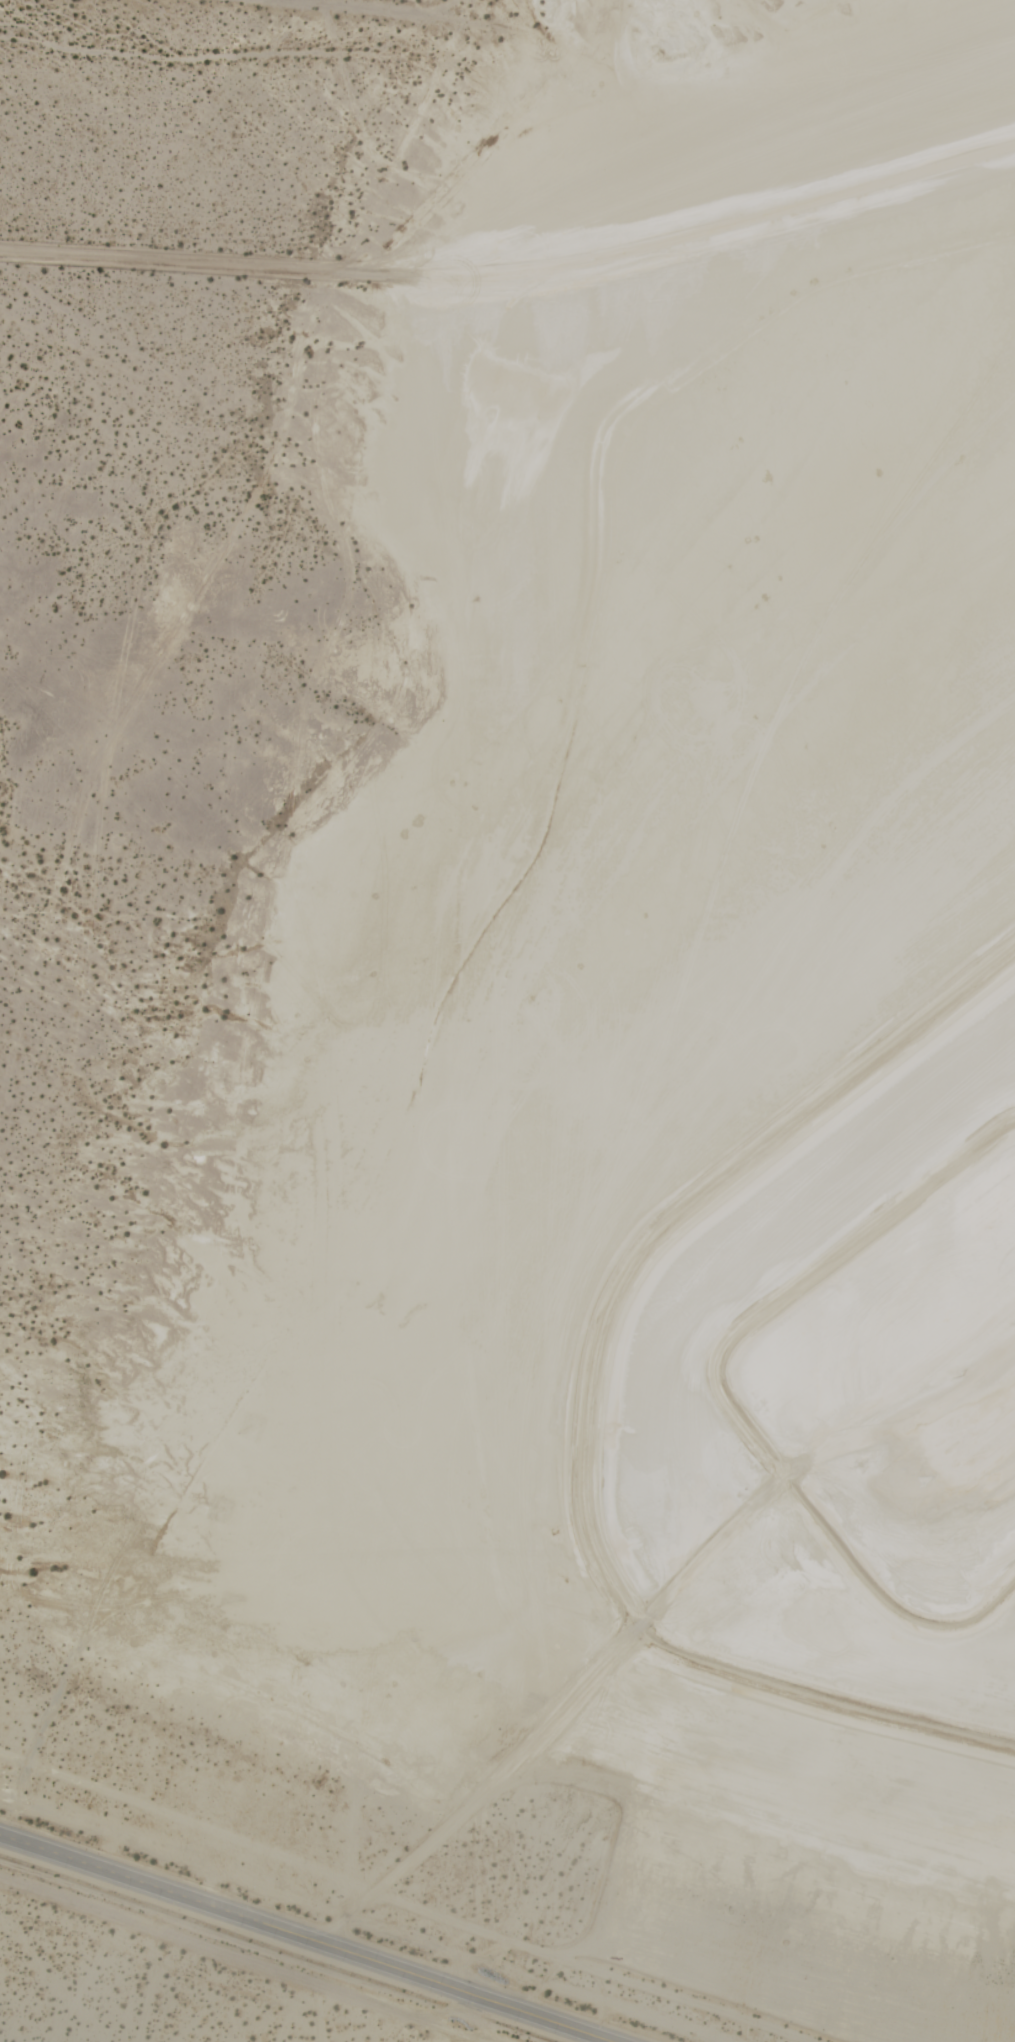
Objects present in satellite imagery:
road: (386, 12)
road: (187, 263)
airport: (532, 1070)
airport runway: (972, 1444)
road: (301, 1940)
road: (242, 1960)

